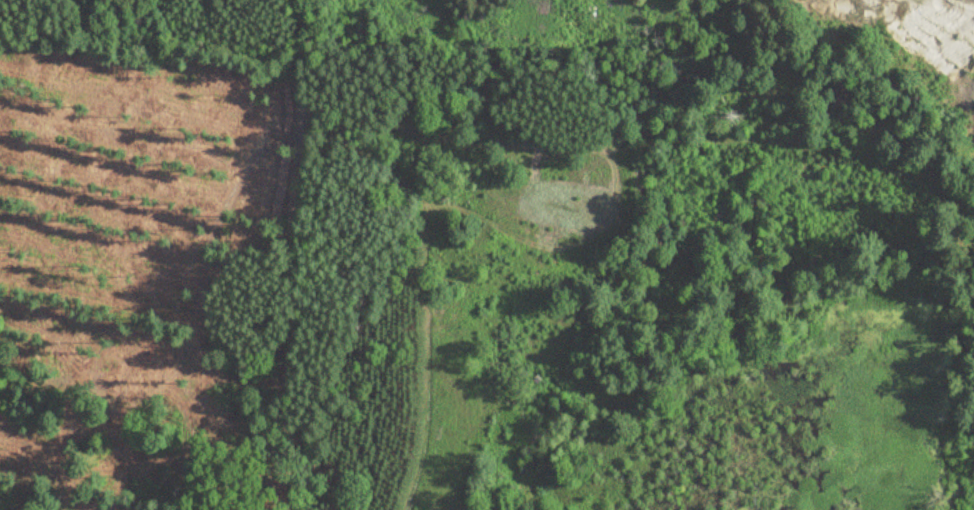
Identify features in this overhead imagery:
quarry: (921, 42)
road: (285, 254)

